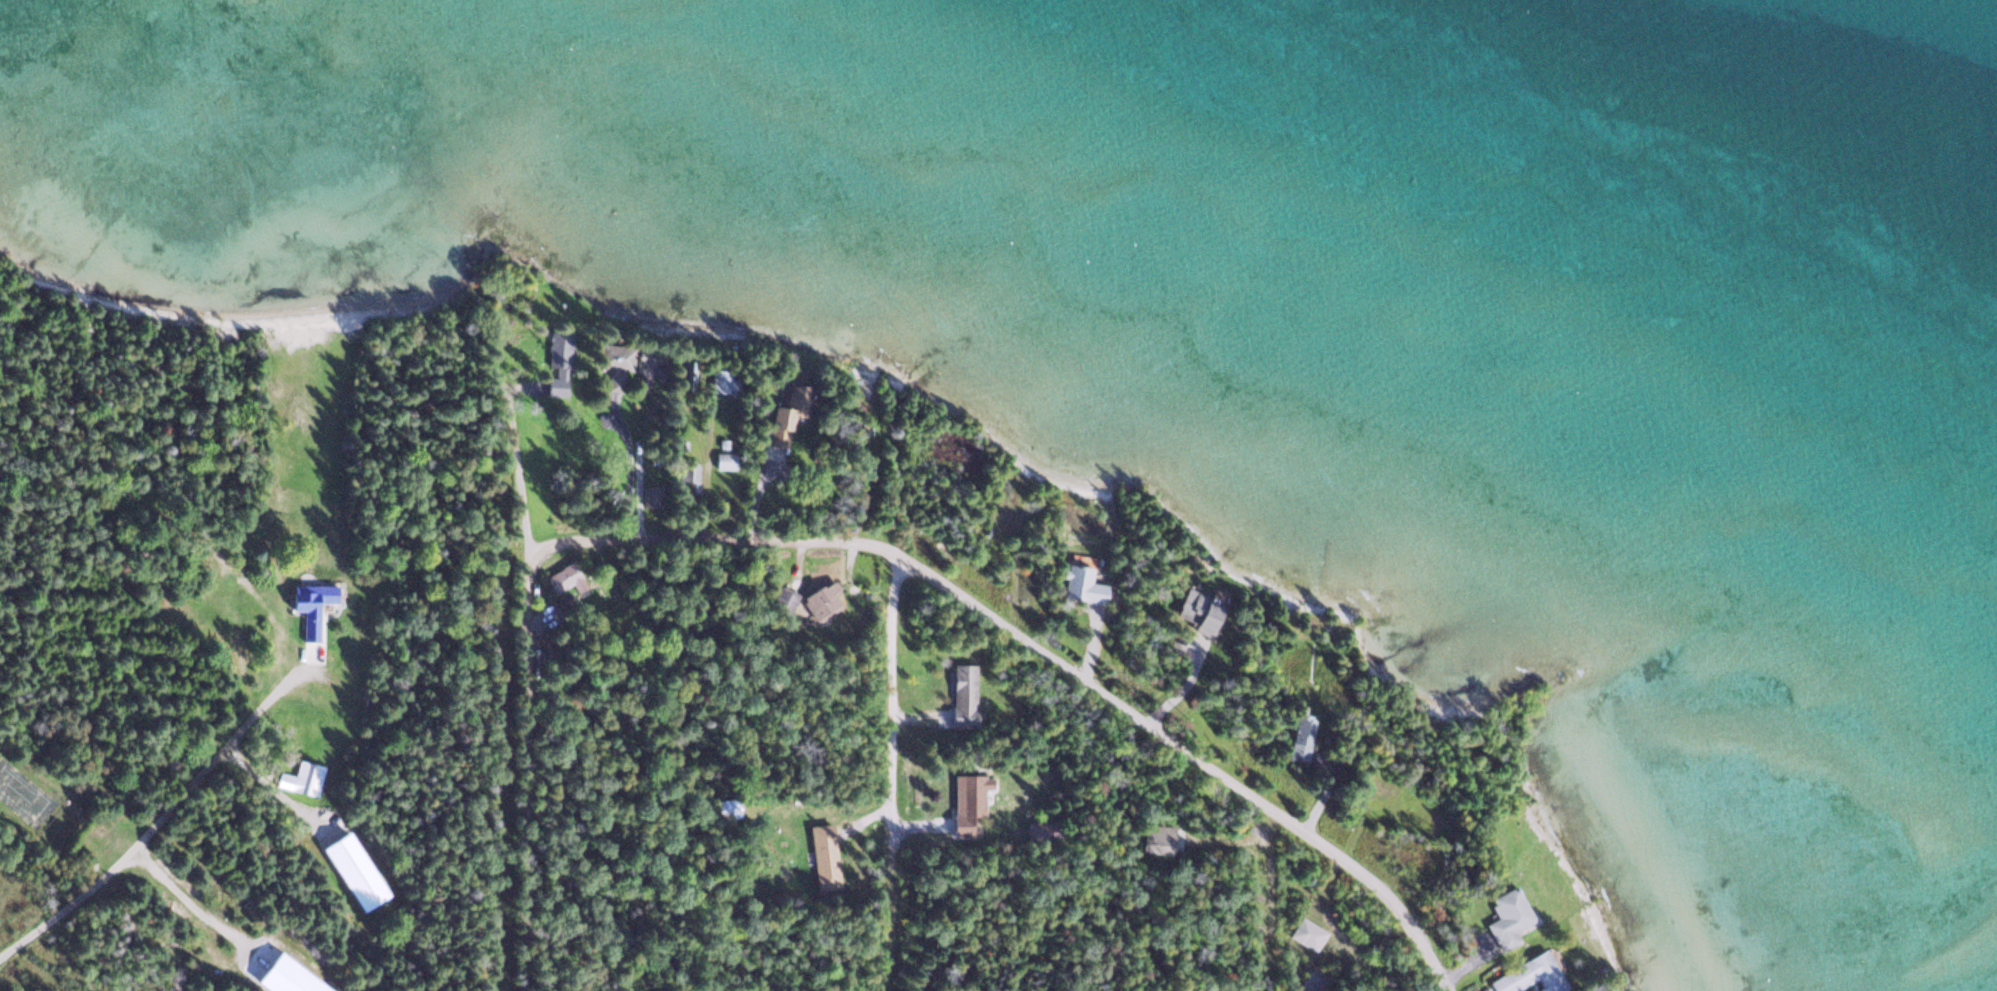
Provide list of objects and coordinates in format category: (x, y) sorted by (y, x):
building: (557, 346)
building: (616, 361)
building: (717, 384)
building: (554, 385)
building: (784, 416)
building: (722, 461)
building: (686, 475)
building: (560, 577)
building: (1078, 584)
building: (820, 598)
building: (561, 600)
building: (782, 600)
building: (308, 604)
building: (1196, 611)
road: (1039, 648)
building: (961, 693)
road: (891, 710)
building: (1299, 731)
road: (524, 775)
building: (300, 777)
park: (23, 795)
building: (964, 801)
building: (724, 808)
road: (154, 822)
building: (1039, 830)
building: (1153, 838)
building: (820, 856)
building: (1507, 913)
building: (1305, 933)
building: (1528, 976)

